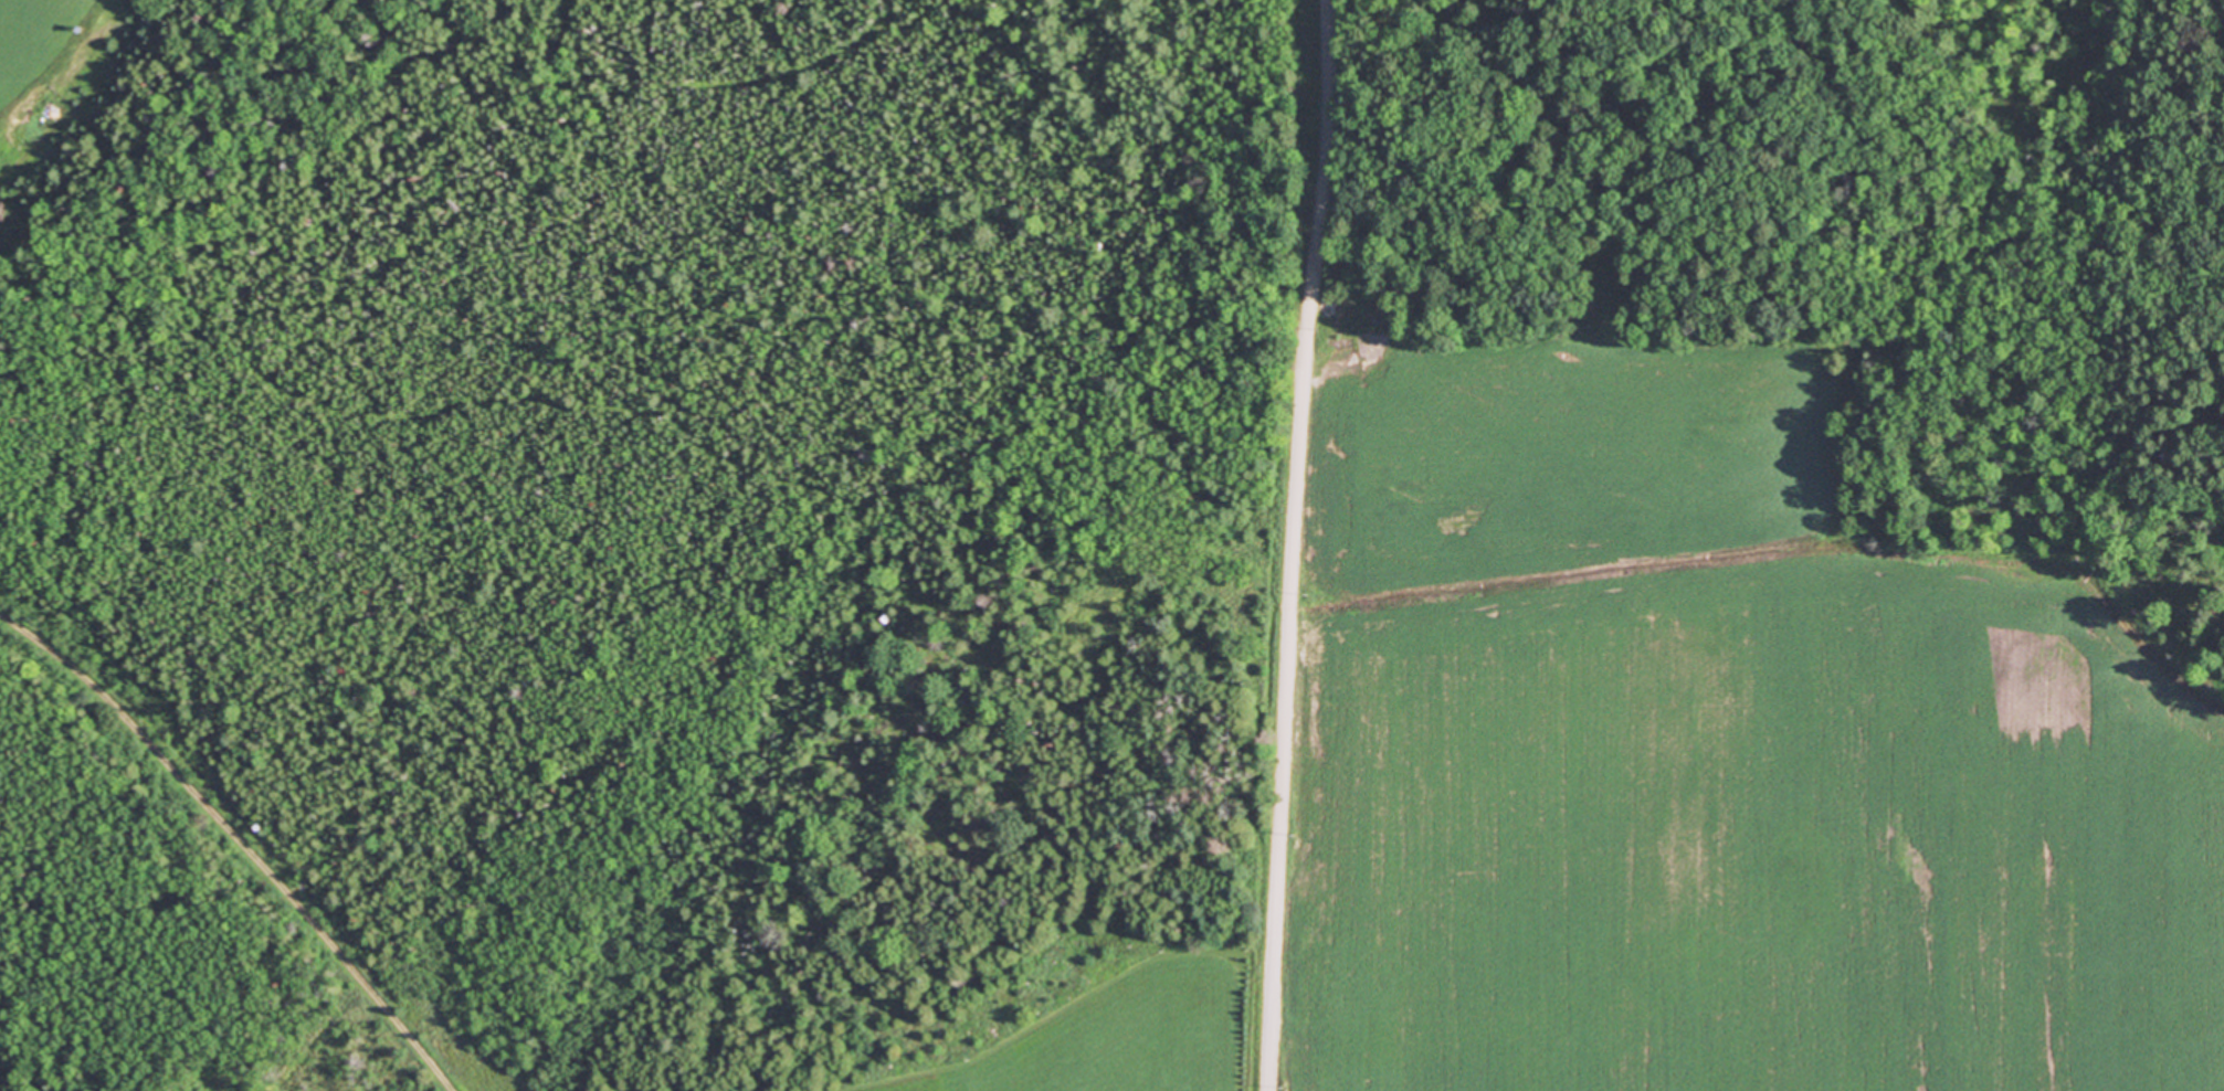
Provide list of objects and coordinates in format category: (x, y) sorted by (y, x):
road: (1294, 545)

